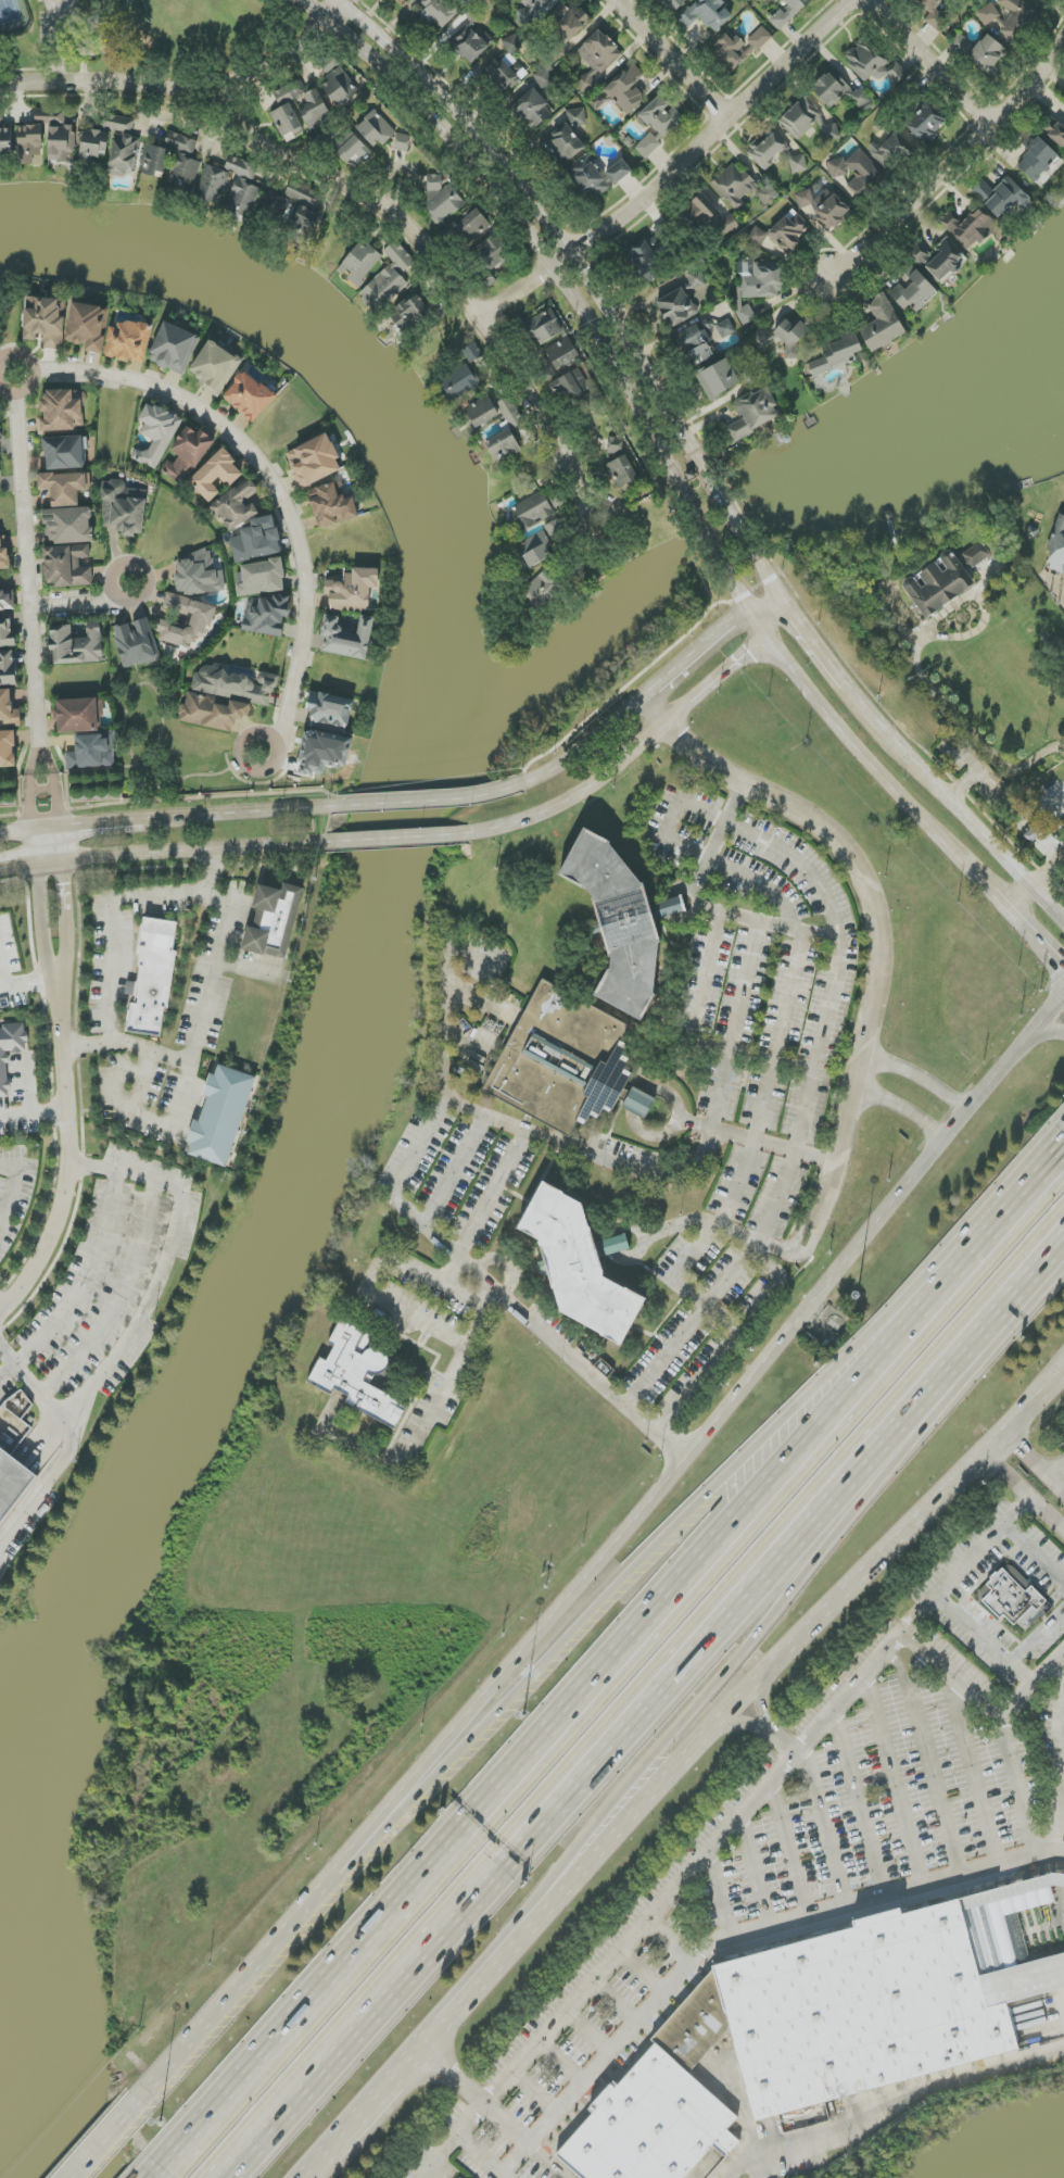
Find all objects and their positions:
building: (404, 0)
building: (537, 3)
building: (674, 4)
building: (924, 5)
road: (55, 10)
building: (438, 12)
building: (788, 12)
building: (706, 14)
building: (988, 14)
building: (1015, 16)
building: (570, 21)
building: (937, 21)
building: (760, 38)
building: (472, 43)
building: (512, 45)
building: (732, 51)
building: (988, 54)
building: (597, 56)
road: (674, 59)
building: (866, 60)
road: (933, 61)
building: (505, 73)
building: (891, 73)
building: (339, 84)
road: (185, 88)
building: (626, 89)
building: (838, 91)
building: (309, 104)
building: (532, 110)
building: (286, 119)
building: (807, 121)
building: (926, 122)
building: (658, 125)
building: (376, 129)
building: (1055, 133)
building: (566, 138)
building: (5, 139)
building: (180, 142)
building: (402, 142)
building: (61, 144)
building: (93, 146)
building: (123, 146)
building: (889, 149)
building: (768, 150)
building: (155, 161)
road: (954, 162)
building: (1040, 163)
building: (798, 164)
road: (405, 168)
building: (856, 168)
building: (186, 169)
road: (674, 171)
building: (619, 172)
building: (588, 178)
building: (213, 185)
building: (242, 187)
building: (740, 188)
building: (302, 193)
building: (1001, 197)
building: (443, 198)
building: (803, 199)
building: (700, 212)
building: (834, 212)
building: (294, 218)
building: (729, 224)
building: (473, 225)
building: (970, 227)
building: (782, 232)
road: (557, 235)
road: (529, 238)
building: (491, 253)
building: (939, 260)
building: (359, 263)
road: (442, 269)
building: (390, 278)
building: (759, 288)
building: (913, 291)
building: (682, 301)
building: (410, 313)
building: (46, 320)
building: (882, 325)
building: (88, 326)
building: (544, 327)
building: (704, 340)
building: (129, 342)
building: (174, 348)
building: (472, 352)
building: (563, 354)
building: (837, 354)
building: (215, 366)
building: (546, 372)
building: (718, 379)
building: (459, 383)
building: (570, 386)
building: (249, 396)
building: (63, 411)
building: (483, 413)
building: (753, 413)
building: (504, 424)
building: (156, 433)
building: (505, 450)
building: (0, 451)
building: (64, 453)
building: (188, 453)
road: (267, 458)
building: (314, 461)
building: (217, 475)
building: (65, 487)
building: (237, 505)
building: (333, 505)
building: (124, 508)
building: (530, 513)
building: (68, 526)
road: (738, 531)
building: (257, 540)
road: (708, 545)
building: (532, 552)
building: (1056, 554)
building: (976, 555)
building: (4, 557)
building: (67, 566)
building: (199, 575)
road: (768, 576)
building: (261, 578)
building: (938, 586)
road: (1060, 587)
building: (352, 589)
building: (542, 589)
building: (7, 601)
road: (31, 603)
road: (85, 603)
road: (984, 608)
building: (267, 616)
building: (202, 618)
building: (7, 631)
building: (347, 639)
building: (136, 643)
building: (77, 644)
road: (822, 654)
building: (237, 685)
road: (646, 694)
building: (9, 709)
building: (330, 712)
building: (213, 713)
building: (79, 715)
road: (970, 726)
road: (845, 738)
road: (643, 742)
building: (8, 750)
building: (92, 752)
building: (322, 753)
road: (964, 784)
road: (946, 796)
road: (1003, 796)
road: (418, 801)
road: (1061, 802)
road: (239, 813)
road: (98, 823)
road: (23, 832)
road: (669, 838)
road: (395, 839)
road: (48, 843)
road: (161, 851)
road: (708, 855)
road: (1062, 855)
road: (213, 870)
road: (1046, 872)
road: (757, 884)
road: (1019, 897)
road: (999, 901)
road: (1048, 902)
road: (66, 918)
road: (42, 920)
building: (274, 920)
building: (621, 921)
road: (777, 928)
road: (1036, 937)
road: (223, 939)
road: (883, 948)
traffic signals: (1060, 964)
road: (246, 967)
road: (706, 969)
building: (153, 977)
road: (21, 989)
road: (1048, 1032)
road: (127, 1044)
building: (10, 1052)
building: (566, 1062)
road: (919, 1078)
road: (143, 1081)
road: (24, 1082)
road: (808, 1088)
road: (653, 1091)
road: (34, 1107)
road: (904, 1110)
road: (758, 1115)
building: (220, 1116)
road: (757, 1141)
road: (590, 1154)
road: (72, 1159)
road: (453, 1170)
road: (15, 1182)
road: (396, 1188)
road: (1008, 1204)
road: (696, 1222)
road: (629, 1231)
building: (581, 1264)
road: (451, 1271)
road: (376, 1275)
road: (78, 1284)
road: (118, 1299)
road: (705, 1305)
road: (518, 1311)
road: (135, 1329)
road: (729, 1338)
road: (448, 1373)
building: (357, 1375)
road: (35, 1393)
building: (14, 1422)
road: (1035, 1464)
road: (1057, 1473)
building: (12, 1482)
road: (657, 1490)
road: (1024, 1491)
road: (1033, 1557)
building: (1014, 1598)
road: (780, 1610)
road: (591, 1616)
road: (1036, 1638)
road: (984, 1644)
road: (771, 1667)
road: (919, 1667)
road: (953, 1677)
road: (1033, 1687)
road: (760, 1708)
road: (651, 1711)
road: (550, 1721)
road: (743, 1726)
road: (784, 1743)
road: (930, 1763)
road: (975, 1776)
road: (1060, 1780)
road: (896, 1784)
road: (1016, 1788)
road: (859, 1806)
road: (743, 1815)
road: (822, 1831)
road: (791, 1851)
road: (756, 1875)
road: (718, 1900)
road: (737, 1939)
road: (673, 1940)
road: (642, 1975)
building: (884, 2000)
road: (616, 2004)
building: (695, 2027)
road: (444, 2028)
road: (588, 2035)
road: (185, 2044)
road: (562, 2064)
road: (456, 2081)
road: (535, 2094)
road: (888, 2104)
road: (495, 2114)
road: (363, 2120)
building: (650, 2125)
road: (100, 2145)
road: (104, 2145)
road: (439, 2157)
road: (481, 2157)
road: (546, 2163)
road: (320, 2168)
building: (459, 2177)

